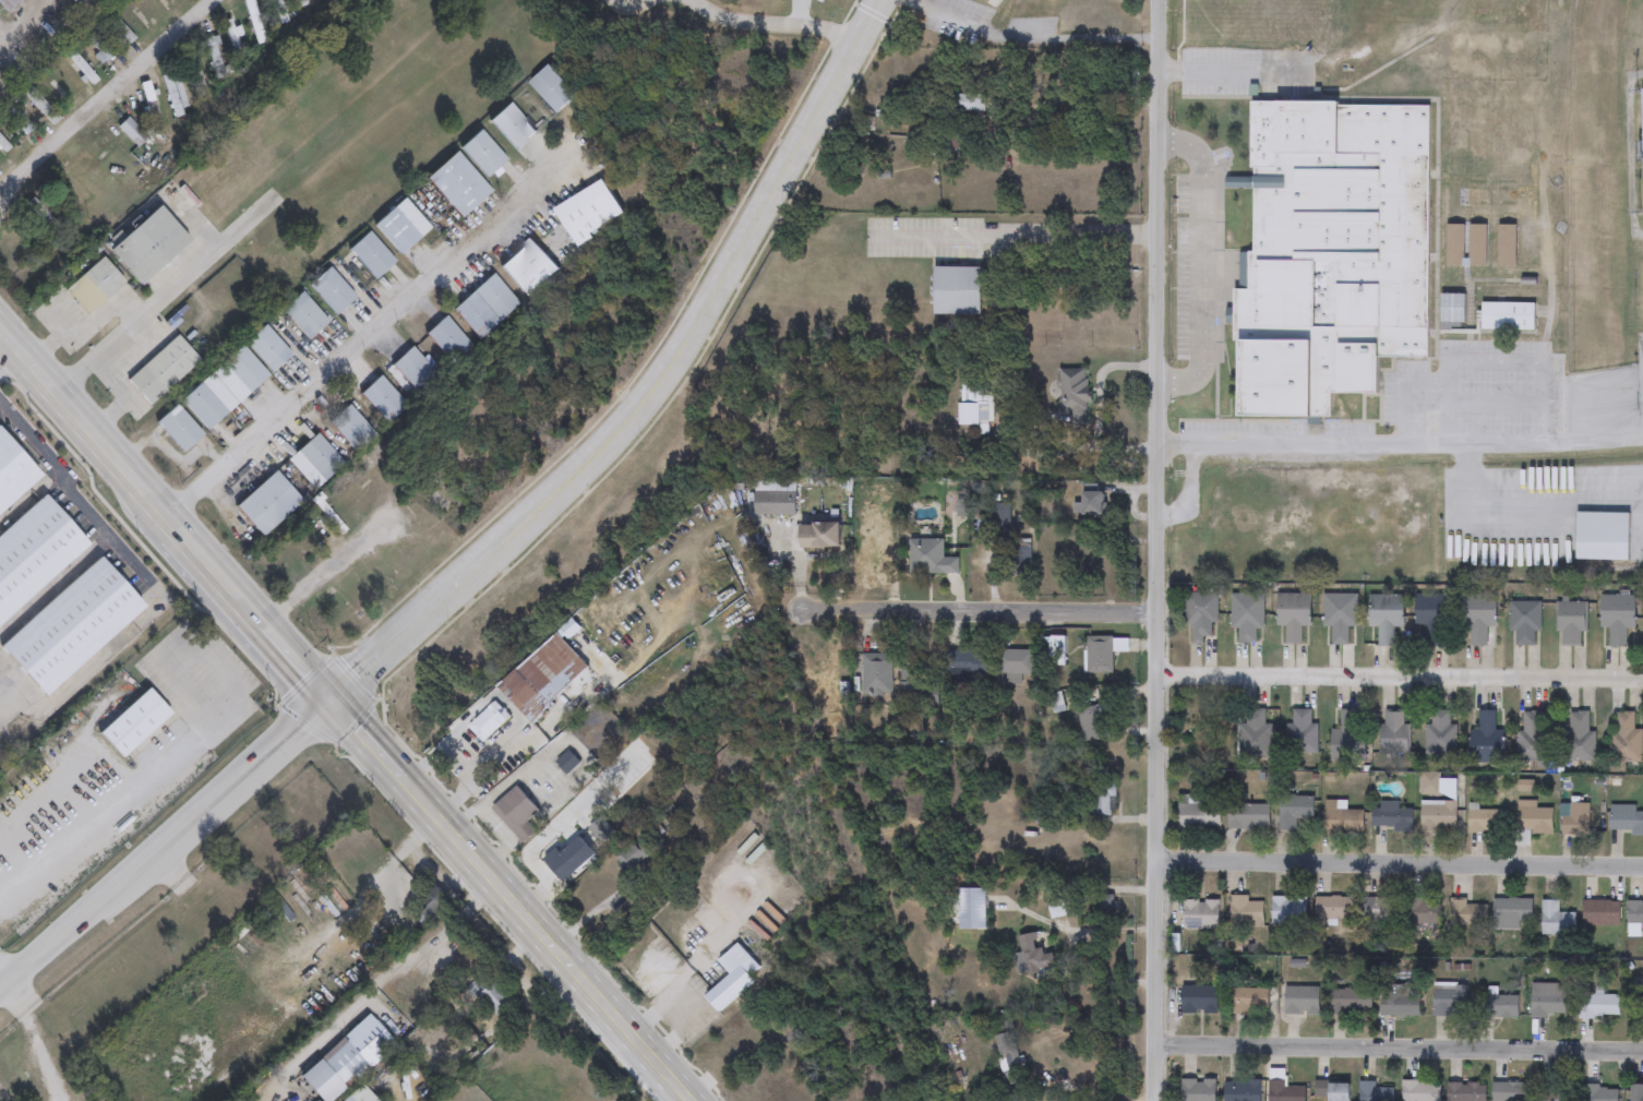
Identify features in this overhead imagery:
building: (304, 1)
road: (638, 7)
building: (1482, 7)
road: (807, 12)
building: (1534, 15)
road: (779, 24)
building: (232, 36)
road: (1032, 37)
building: (213, 56)
road: (1230, 69)
building: (196, 76)
building: (552, 88)
building: (175, 93)
road: (96, 101)
building: (967, 103)
road: (1036, 108)
building: (512, 125)
building: (481, 153)
building: (457, 183)
building: (588, 213)
building: (401, 226)
road: (1015, 235)
building: (1455, 244)
building: (1477, 246)
building: (1507, 246)
building: (1333, 252)
road: (1199, 263)
building: (528, 267)
building: (957, 291)
road: (161, 297)
building: (485, 306)
building: (1453, 311)
building: (1508, 316)
road: (81, 321)
road: (374, 327)
building: (448, 339)
road: (5, 347)
road: (125, 374)
road: (657, 388)
building: (1072, 398)
building: (974, 404)
road: (1099, 408)
road: (1401, 447)
building: (775, 503)
building: (1092, 505)
building: (819, 536)
building: (1609, 542)
road: (1156, 550)
building: (873, 557)
building: (926, 557)
building: (1018, 560)
road: (326, 573)
road: (149, 578)
road: (980, 613)
building: (1200, 614)
building: (1293, 614)
building: (1246, 615)
building: (1432, 615)
building: (1478, 615)
building: (1340, 617)
building: (1386, 617)
building: (1618, 618)
building: (1524, 622)
building: (1571, 622)
building: (1054, 649)
building: (1102, 653)
building: (964, 662)
building: (1014, 665)
building: (875, 674)
building: (542, 677)
road: (1399, 678)
building: (918, 686)
traffic signals: (332, 699)
road: (345, 714)
building: (488, 721)
building: (1092, 723)
building: (1303, 732)
building: (1393, 734)
building: (1441, 734)
building: (1255, 735)
building: (1534, 738)
building: (1579, 738)
building: (1486, 740)
building: (1626, 740)
building: (1346, 741)
road: (549, 750)
building: (567, 763)
road: (456, 765)
building: (1101, 799)
building: (514, 810)
building: (1294, 811)
building: (1438, 815)
building: (1199, 816)
building: (1248, 817)
building: (1393, 817)
building: (1342, 818)
building: (1533, 818)
building: (1575, 819)
building: (1626, 821)
road: (87, 822)
building: (1484, 822)
road: (494, 825)
road: (552, 828)
road: (524, 830)
road: (165, 841)
road: (499, 852)
road: (1400, 862)
building: (1334, 908)
building: (971, 909)
building: (1378, 910)
building: (1288, 911)
building: (1245, 912)
building: (1423, 912)
building: (1513, 913)
building: (1602, 913)
building: (1634, 913)
building: (1200, 915)
building: (1467, 915)
building: (1556, 921)
road: (1101, 932)
building: (1032, 955)
building: (732, 978)
road: (2, 979)
road: (388, 979)
building: (491, 995)
building: (1198, 1000)
building: (1249, 1001)
building: (1302, 1001)
building: (1450, 1001)
building: (1547, 1001)
building: (1351, 1002)
building: (1398, 1003)
building: (1497, 1005)
building: (1598, 1006)
road: (682, 1007)
road: (245, 1020)
road: (33, 1040)
road: (1398, 1046)
building: (1009, 1055)
road: (1083, 1089)
building: (1198, 1090)
building: (1283, 1090)
building: (1332, 1090)
building: (1242, 1091)
building: (1420, 1091)
building: (1375, 1092)
building: (1466, 1092)
building: (1511, 1092)
building: (1555, 1093)
building: (1599, 1093)
building: (1636, 1093)

